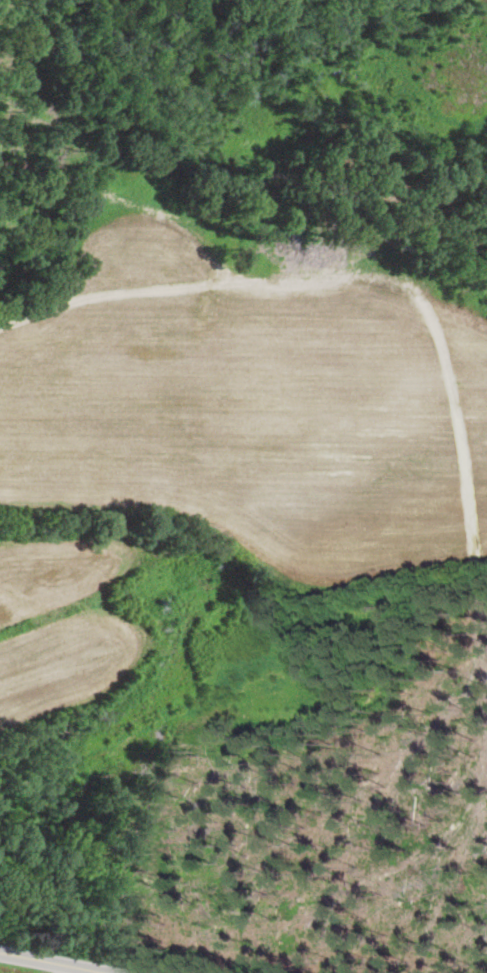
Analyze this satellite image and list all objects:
road: (54, 962)
road: (68, 969)

